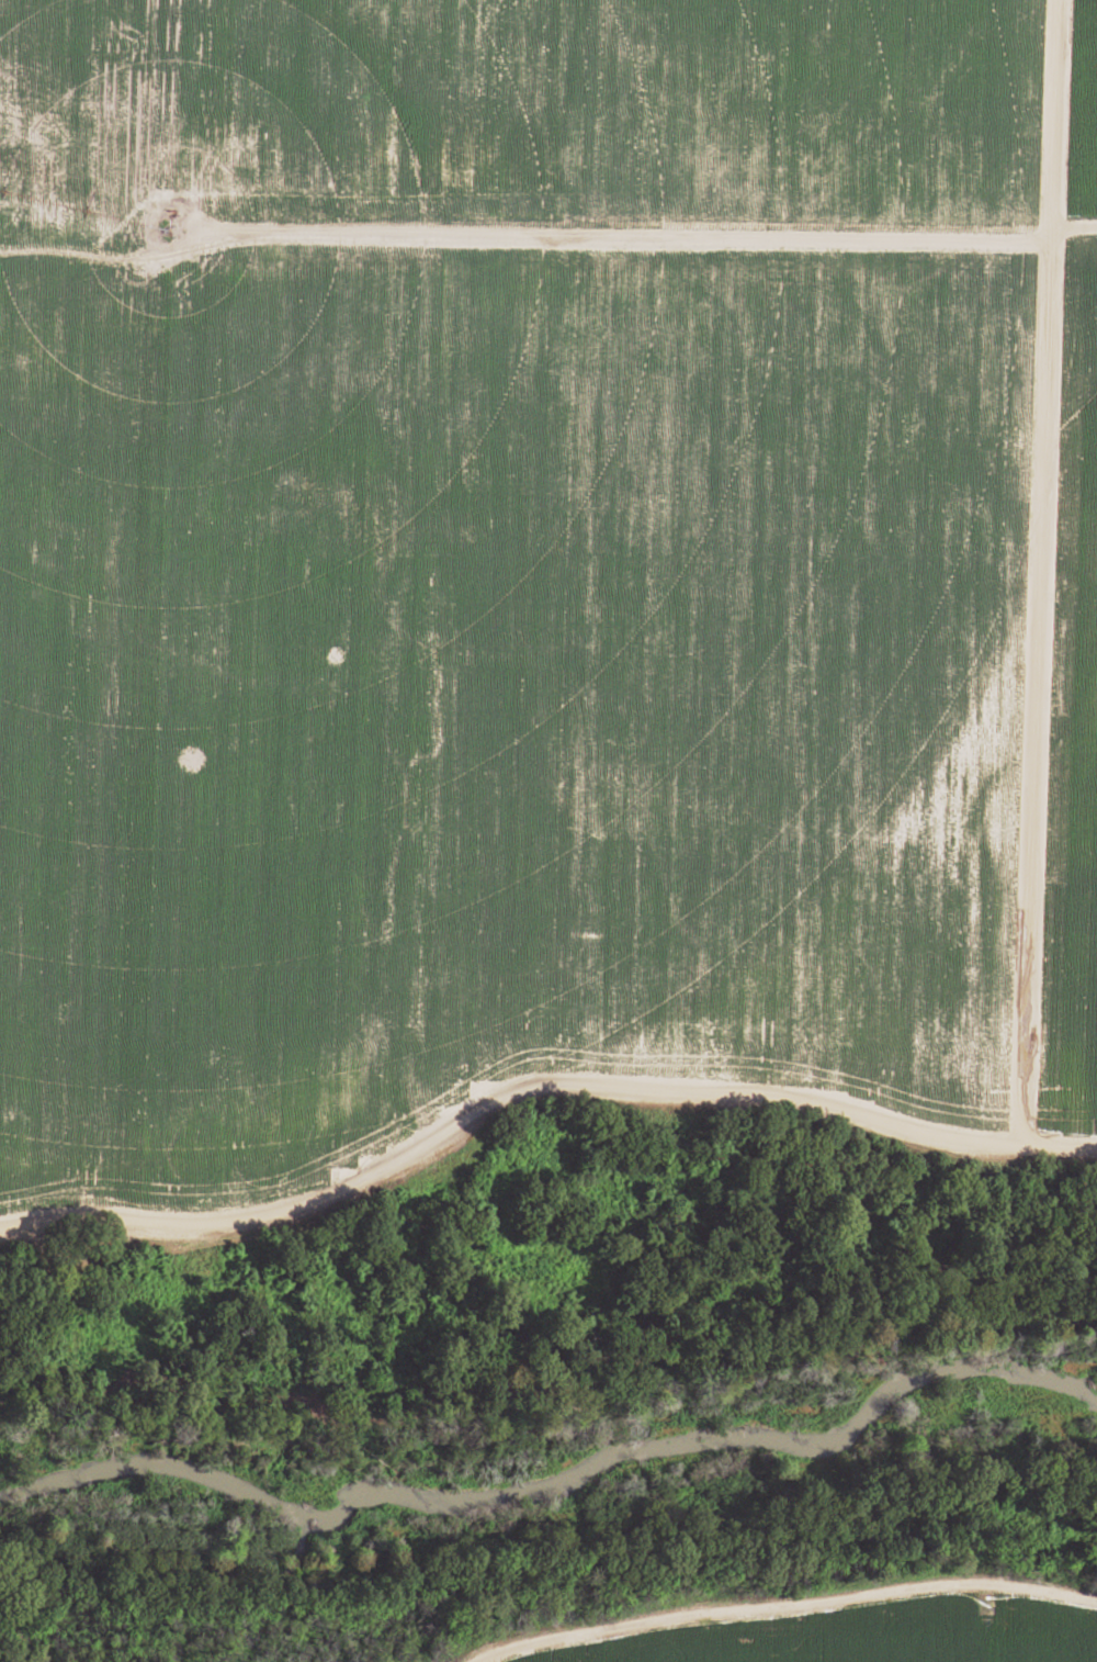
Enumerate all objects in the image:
road: (534, 226)
road: (1036, 574)
road: (534, 1085)
river: (557, 1481)

